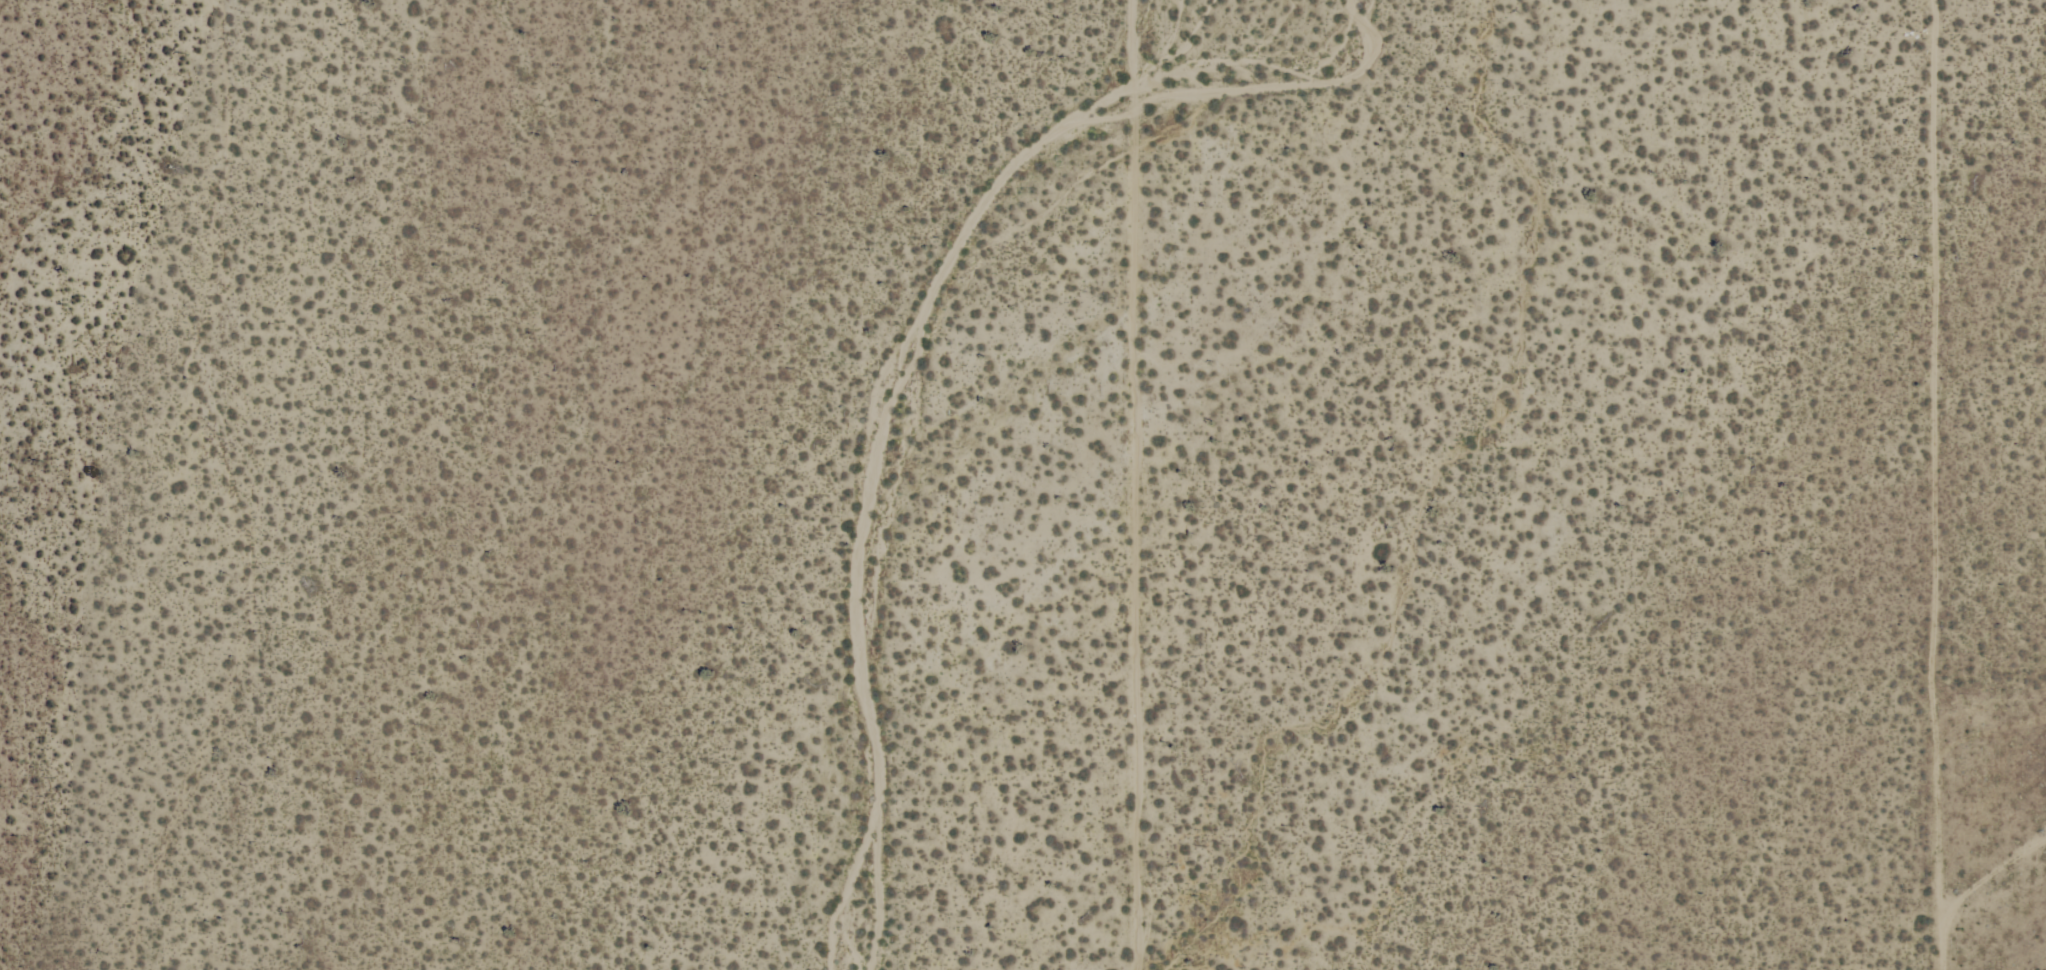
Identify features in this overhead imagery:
road: (1130, 484)
road: (1935, 485)

